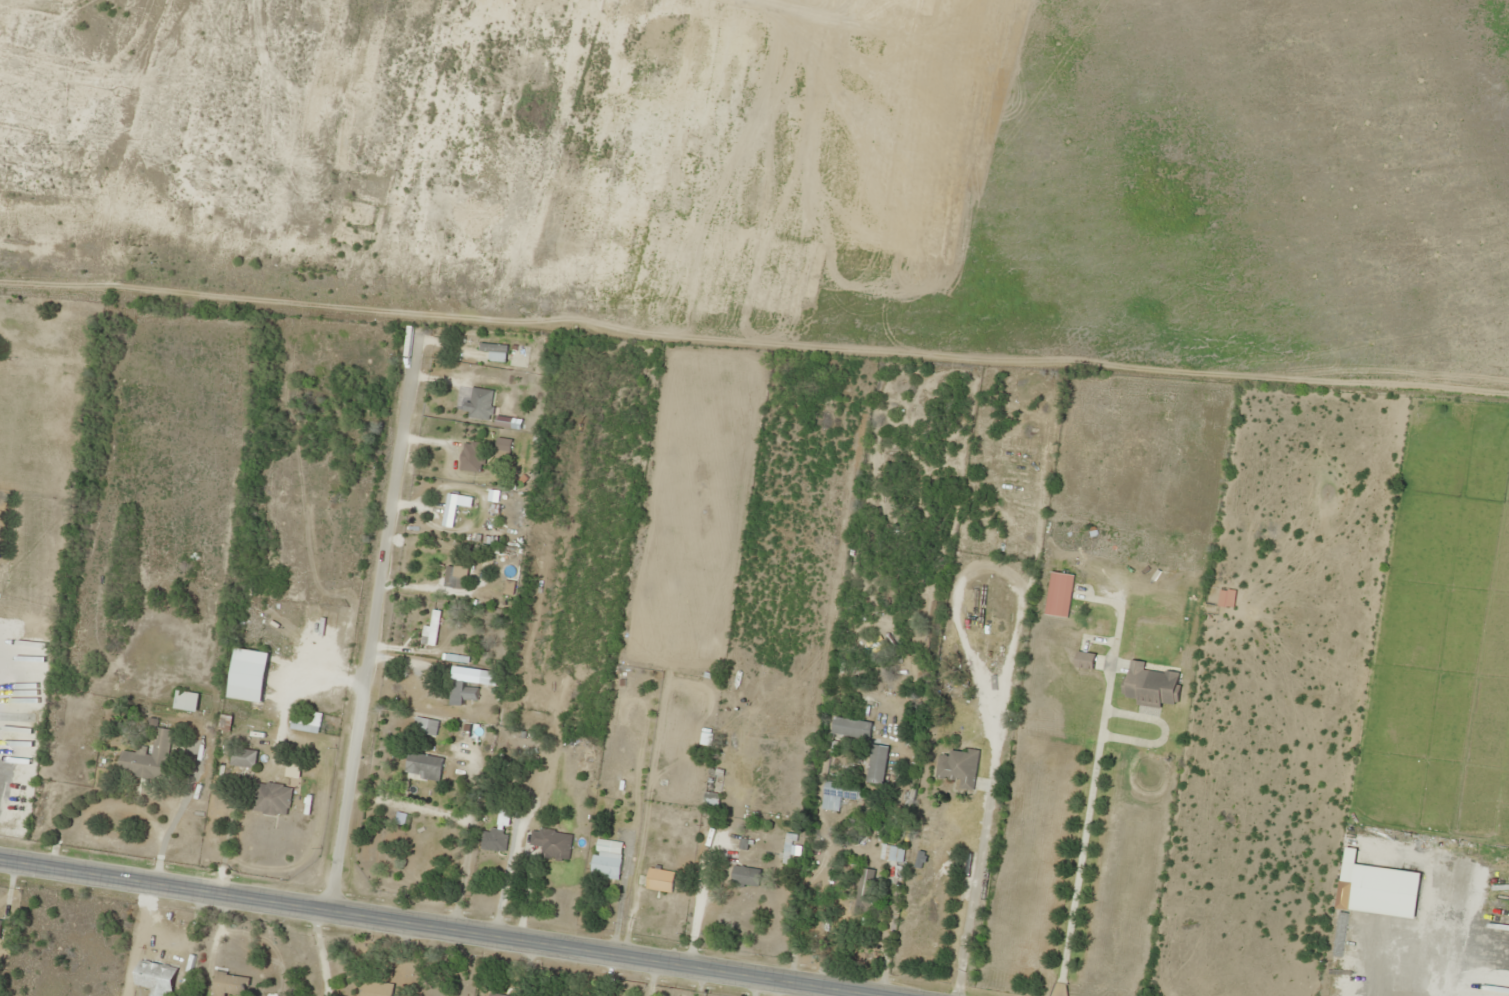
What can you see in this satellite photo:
building: (493, 351)
building: (479, 403)
building: (501, 444)
building: (470, 456)
building: (449, 510)
building: (450, 576)
building: (1058, 593)
building: (1225, 597)
road: (370, 625)
building: (431, 627)
building: (247, 668)
building: (1149, 684)
building: (458, 693)
building: (184, 700)
building: (303, 719)
building: (418, 725)
building: (849, 726)
building: (146, 757)
building: (242, 757)
building: (875, 763)
building: (422, 766)
building: (957, 768)
building: (836, 794)
building: (270, 798)
building: (495, 835)
building: (550, 843)
building: (787, 847)
building: (894, 853)
building: (604, 866)
building: (744, 875)
building: (658, 879)
building: (863, 889)
building: (0, 917)
road: (450, 928)
building: (153, 977)
building: (228, 984)
building: (376, 988)

